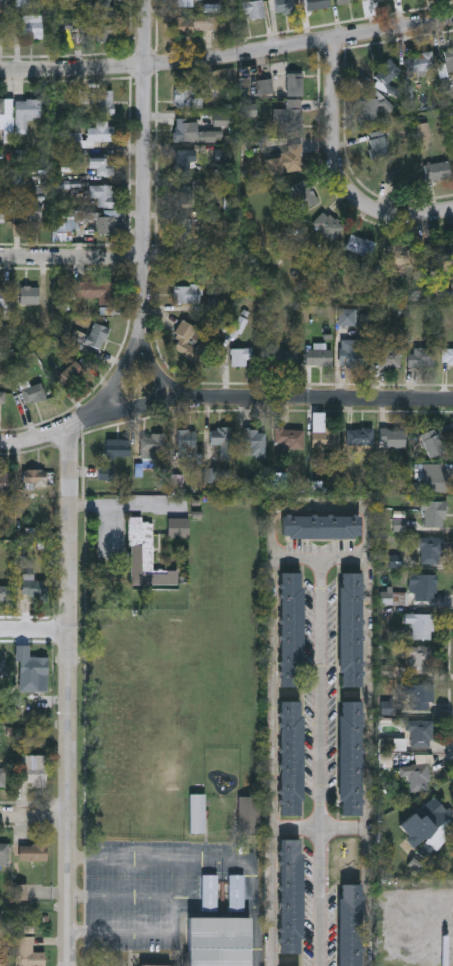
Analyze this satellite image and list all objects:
building: (379, 0)
building: (344, 1)
building: (184, 3)
building: (317, 4)
building: (287, 6)
building: (105, 9)
building: (254, 10)
building: (197, 24)
building: (32, 26)
building: (7, 30)
building: (102, 32)
road: (228, 57)
building: (449, 57)
building: (421, 63)
building: (387, 73)
building: (295, 84)
building: (186, 96)
building: (105, 101)
building: (369, 110)
building: (25, 113)
building: (6, 114)
building: (289, 114)
building: (101, 131)
building: (191, 132)
building: (378, 144)
building: (288, 160)
building: (184, 161)
building: (101, 163)
road: (145, 164)
road: (343, 168)
building: (437, 172)
building: (102, 194)
building: (183, 195)
building: (305, 196)
building: (2, 214)
building: (31, 215)
building: (102, 224)
building: (327, 225)
building: (68, 228)
building: (183, 228)
building: (361, 246)
building: (438, 252)
building: (400, 258)
road: (73, 259)
building: (91, 290)
building: (187, 294)
building: (28, 295)
building: (4, 296)
building: (239, 327)
building: (96, 335)
building: (181, 340)
building: (353, 353)
building: (319, 356)
building: (242, 357)
building: (387, 357)
building: (422, 357)
building: (448, 357)
building: (285, 358)
road: (121, 370)
building: (76, 373)
road: (163, 374)
building: (33, 392)
road: (274, 398)
building: (2, 400)
road: (83, 419)
building: (360, 436)
building: (395, 437)
road: (35, 438)
building: (289, 438)
building: (222, 439)
building: (326, 439)
building: (254, 442)
building: (433, 442)
building: (187, 443)
building: (151, 444)
building: (118, 448)
building: (106, 472)
building: (434, 477)
building: (34, 478)
building: (6, 480)
road: (321, 509)
building: (434, 513)
building: (177, 527)
building: (321, 528)
building: (431, 550)
building: (145, 555)
road: (321, 557)
building: (423, 587)
building: (34, 589)
building: (4, 592)
building: (393, 597)
building: (421, 625)
building: (350, 627)
building: (291, 628)
road: (36, 630)
building: (420, 659)
building: (4, 666)
building: (30, 671)
road: (71, 696)
building: (420, 697)
building: (420, 733)
building: (290, 756)
building: (350, 756)
road: (322, 761)
building: (32, 769)
building: (416, 775)
building: (3, 776)
road: (35, 813)
building: (197, 813)
building: (249, 815)
building: (436, 821)
road: (320, 824)
building: (32, 851)
building: (3, 853)
road: (211, 861)
parking lot: (136, 875)
road: (178, 880)
building: (209, 892)
building: (236, 892)
building: (290, 895)
road: (179, 916)
building: (349, 924)
building: (218, 941)
building: (29, 953)
building: (2, 954)
building: (157, 965)

